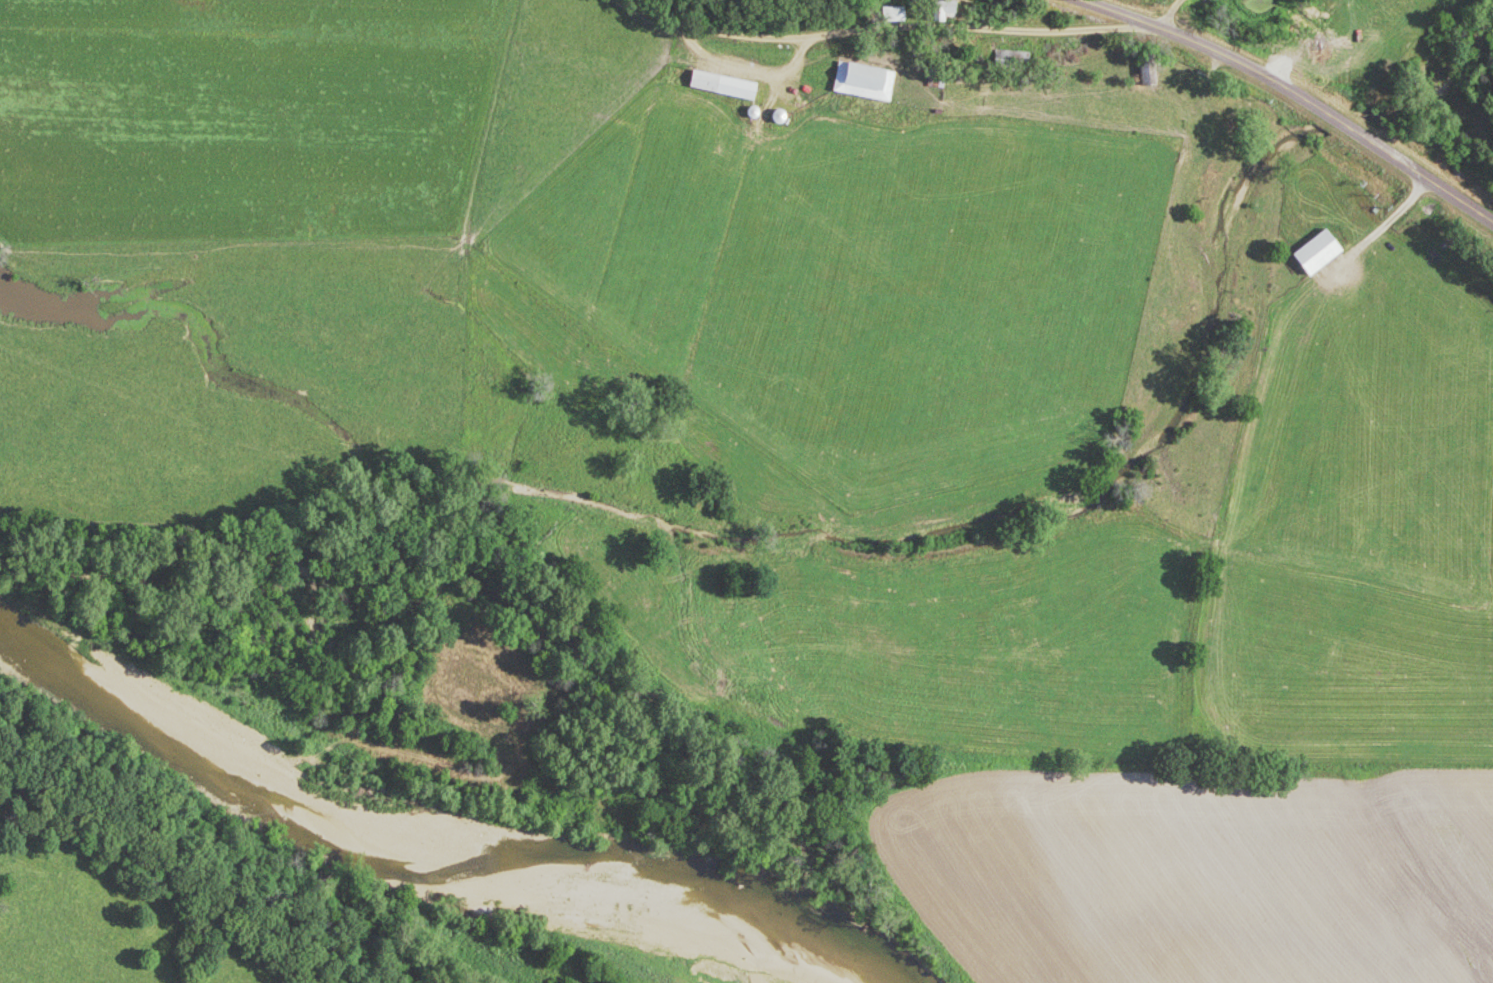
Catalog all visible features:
building: (948, 10)
road: (908, 35)
building: (1323, 55)
building: (1014, 60)
building: (1154, 70)
building: (938, 79)
building: (867, 82)
building: (726, 86)
road: (1296, 95)
building: (1323, 252)
river: (428, 829)

